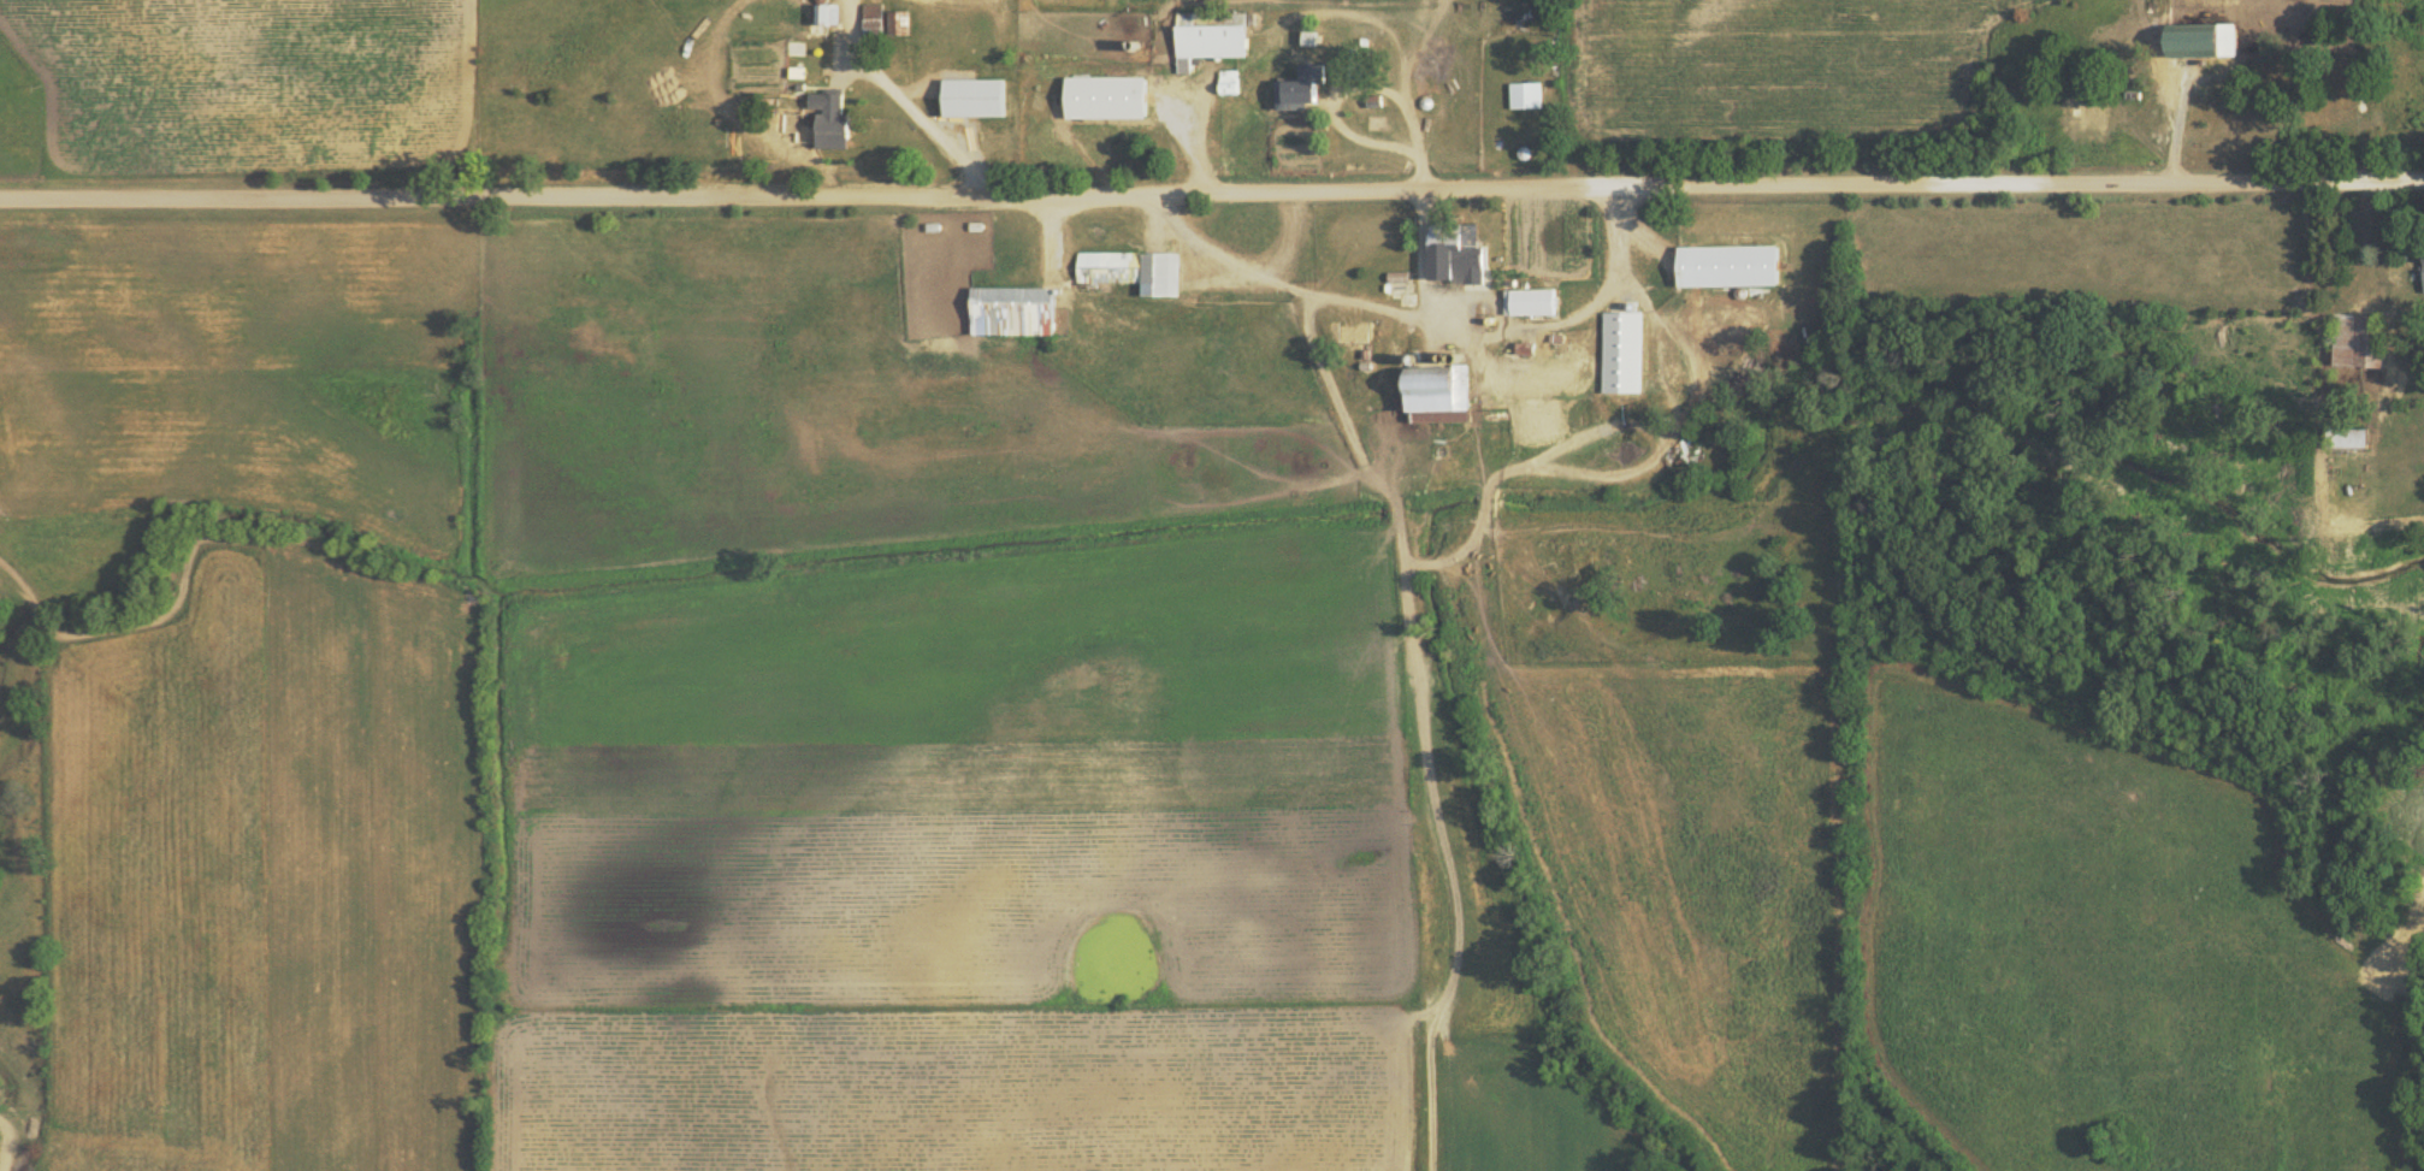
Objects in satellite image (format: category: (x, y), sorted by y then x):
building: (826, 12)
building: (871, 17)
building: (897, 20)
building: (2200, 37)
building: (1297, 87)
building: (1524, 93)
building: (971, 95)
building: (828, 117)
building: (1373, 120)
road: (1212, 189)
building: (1453, 253)
building: (1724, 264)
building: (1130, 268)
building: (2423, 271)
building: (1395, 276)
building: (1527, 300)
building: (1010, 309)
building: (1523, 347)
building: (1620, 350)
building: (1514, 383)
building: (1435, 392)
building: (2343, 437)

